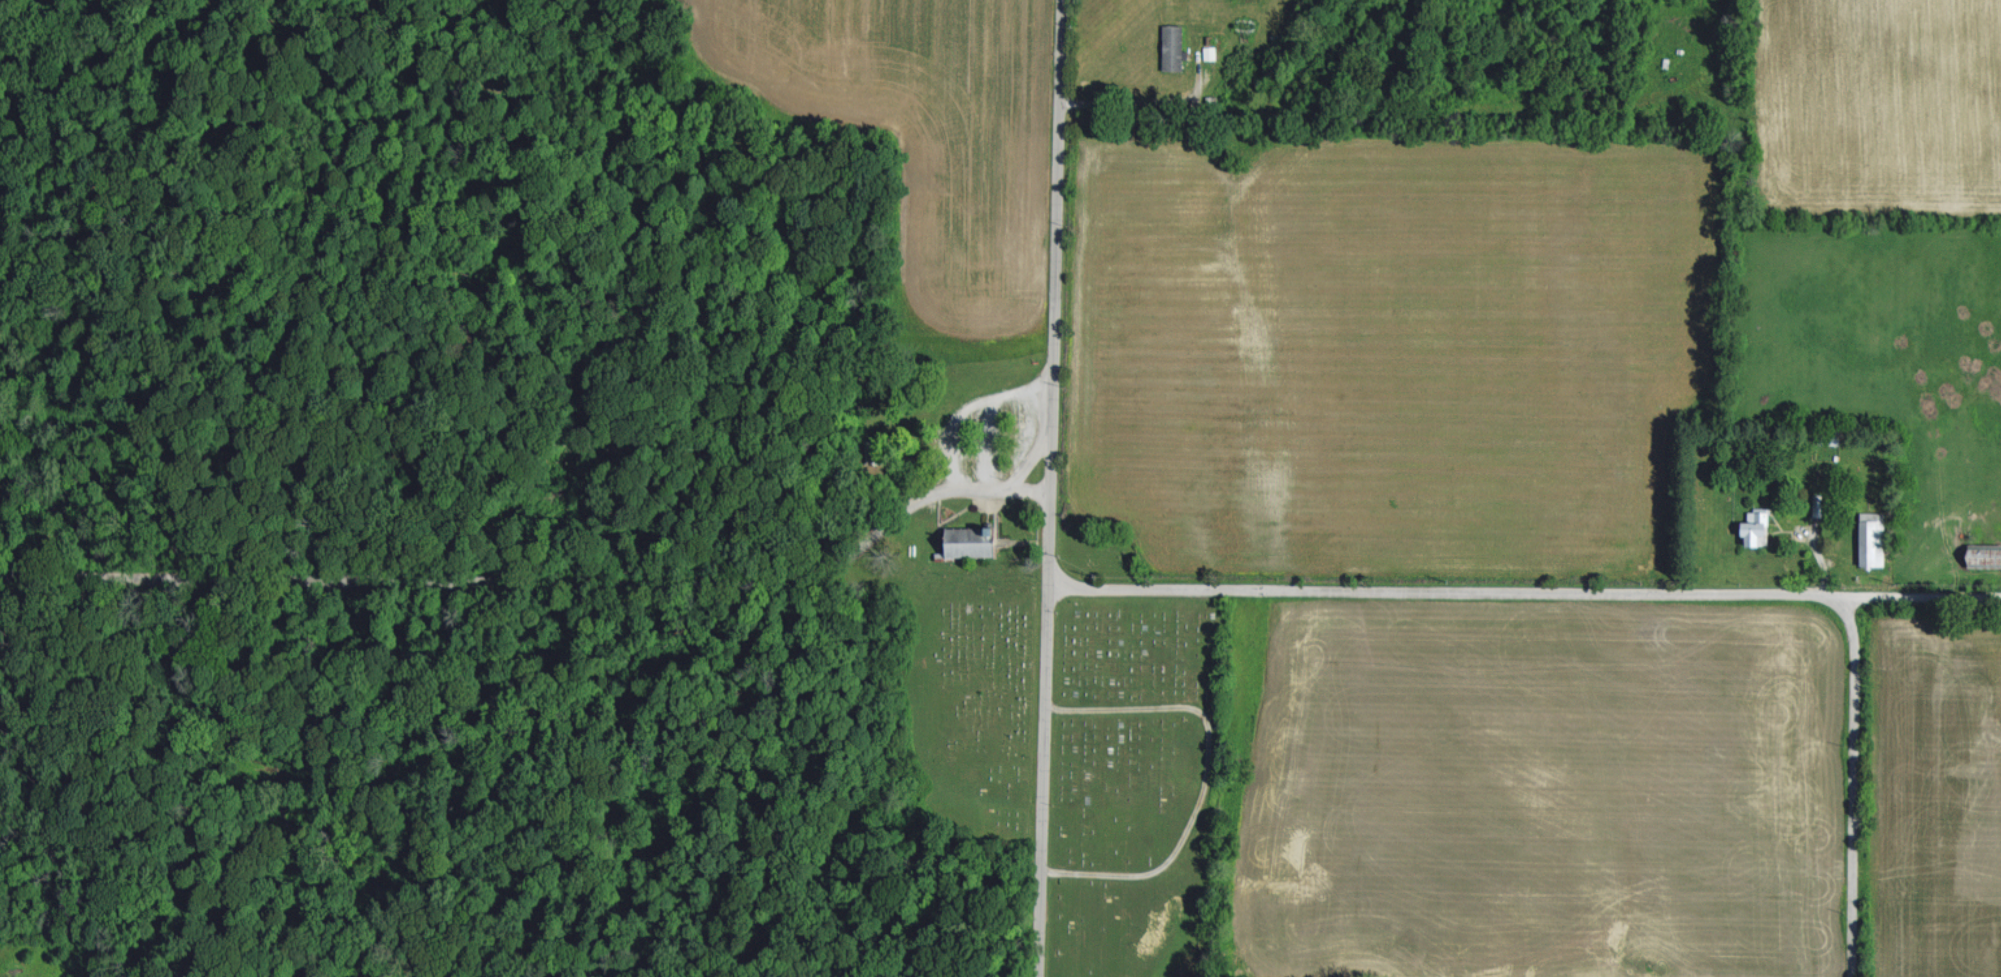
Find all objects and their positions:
building: (1174, 47)
building: (1210, 53)
road: (1119, 99)
road: (976, 406)
road: (947, 484)
road: (1049, 488)
building: (1757, 526)
building: (971, 540)
building: (1873, 542)
building: (1985, 554)
road: (999, 570)
road: (1853, 783)
road: (1150, 868)

